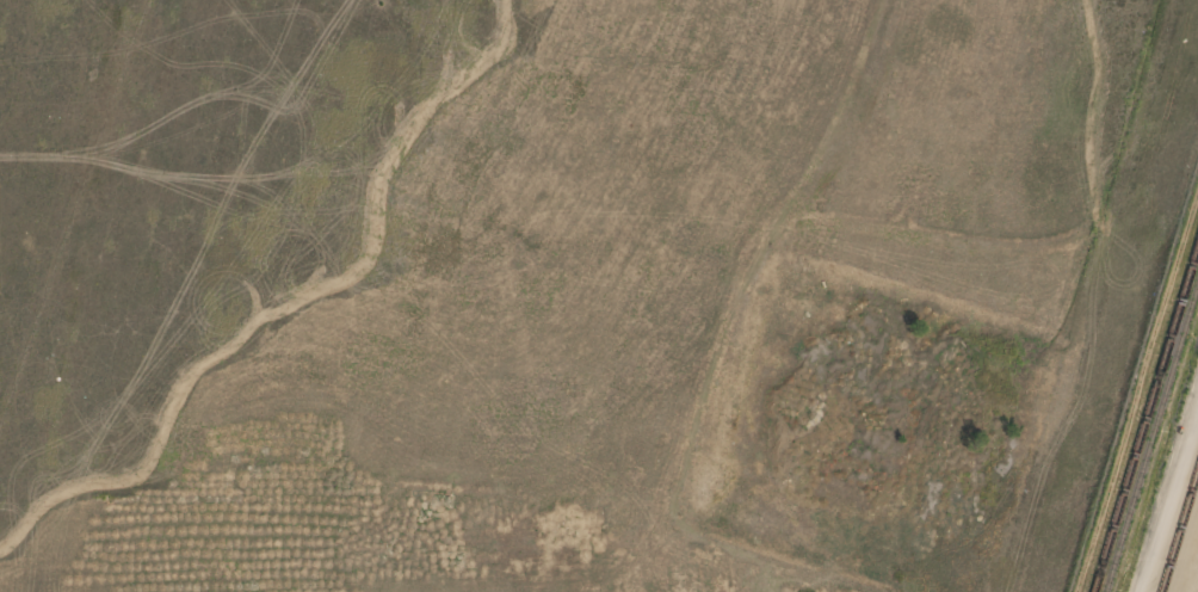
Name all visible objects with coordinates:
railway: (1145, 419)
railway: (1151, 437)
railway: (1179, 531)

